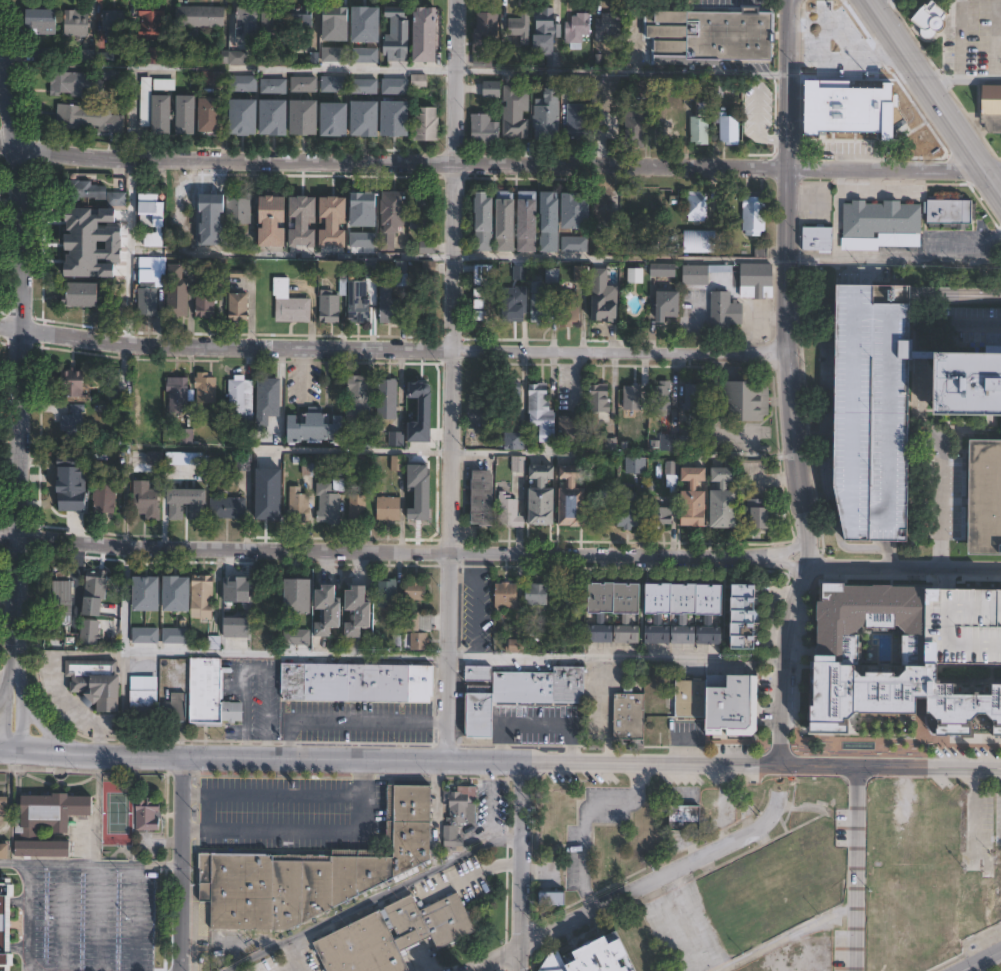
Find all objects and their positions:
building: (199, 17)
building: (43, 20)
building: (153, 20)
building: (926, 21)
building: (77, 23)
building: (248, 23)
building: (333, 23)
building: (304, 24)
building: (116, 25)
building: (273, 25)
building: (609, 25)
building: (517, 28)
building: (578, 30)
building: (365, 33)
building: (428, 33)
building: (398, 34)
building: (542, 36)
building: (484, 37)
building: (710, 39)
building: (43, 55)
building: (157, 55)
building: (105, 58)
building: (235, 58)
building: (341, 58)
road: (976, 67)
road: (512, 70)
building: (112, 74)
building: (215, 76)
road: (963, 79)
building: (418, 80)
building: (73, 83)
building: (166, 84)
building: (244, 84)
building: (274, 84)
building: (335, 84)
building: (306, 85)
building: (393, 85)
road: (928, 85)
building: (366, 87)
building: (639, 88)
building: (715, 88)
building: (490, 90)
building: (147, 101)
building: (990, 107)
building: (702, 108)
building: (848, 110)
building: (512, 112)
building: (163, 114)
building: (188, 114)
building: (212, 114)
building: (84, 116)
building: (543, 116)
building: (393, 117)
building: (246, 118)
building: (368, 120)
building: (576, 120)
building: (338, 121)
building: (275, 122)
building: (306, 123)
building: (427, 124)
building: (637, 126)
building: (482, 129)
building: (726, 129)
building: (605, 130)
building: (698, 130)
building: (668, 131)
road: (493, 163)
road: (995, 171)
road: (790, 177)
road: (995, 179)
building: (92, 192)
building: (210, 205)
building: (699, 206)
building: (423, 207)
building: (240, 208)
building: (393, 208)
building: (574, 209)
building: (949, 210)
building: (606, 211)
building: (756, 216)
road: (128, 218)
building: (152, 218)
building: (548, 218)
building: (306, 219)
building: (880, 219)
building: (482, 220)
building: (503, 220)
building: (524, 220)
building: (76, 221)
building: (271, 221)
building: (337, 224)
road: (958, 237)
building: (221, 238)
building: (818, 238)
road: (992, 238)
building: (571, 243)
building: (673, 246)
building: (429, 247)
road: (201, 253)
road: (427, 255)
building: (77, 258)
road: (736, 260)
road: (894, 260)
building: (664, 270)
building: (582, 273)
building: (554, 275)
building: (697, 275)
building: (759, 275)
building: (636, 276)
building: (150, 285)
building: (178, 292)
building: (84, 295)
road: (954, 295)
building: (365, 300)
building: (395, 302)
building: (207, 303)
building: (334, 303)
building: (540, 303)
building: (291, 304)
building: (671, 305)
building: (239, 307)
building: (484, 308)
building: (421, 309)
building: (513, 309)
building: (602, 309)
building: (570, 310)
building: (725, 310)
road: (393, 347)
road: (20, 356)
road: (450, 380)
building: (85, 382)
building: (967, 383)
building: (207, 389)
building: (151, 391)
building: (424, 391)
building: (178, 394)
building: (511, 395)
building: (241, 396)
building: (361, 396)
building: (663, 396)
building: (696, 397)
building: (632, 398)
building: (388, 399)
building: (539, 399)
building: (747, 400)
building: (270, 401)
building: (602, 402)
road: (923, 407)
building: (868, 410)
parking garage: (868, 410)
building: (480, 412)
building: (73, 422)
building: (318, 429)
building: (575, 431)
building: (140, 436)
building: (187, 436)
building: (396, 439)
building: (517, 441)
building: (367, 442)
building: (679, 443)
road: (794, 449)
road: (415, 451)
road: (641, 452)
road: (750, 454)
building: (156, 459)
building: (185, 460)
building: (245, 463)
building: (398, 464)
building: (512, 465)
building: (637, 466)
building: (667, 478)
building: (537, 497)
building: (567, 497)
building: (985, 497)
building: (481, 498)
building: (756, 498)
building: (103, 499)
building: (147, 500)
building: (689, 500)
building: (719, 500)
building: (188, 504)
building: (329, 505)
building: (299, 506)
building: (266, 507)
building: (228, 508)
building: (390, 510)
building: (358, 511)
building: (507, 512)
building: (643, 513)
road: (401, 548)
road: (804, 550)
road: (901, 565)
road: (944, 578)
building: (98, 585)
building: (234, 591)
building: (297, 591)
building: (416, 591)
building: (144, 592)
building: (174, 592)
building: (389, 593)
building: (540, 594)
building: (507, 597)
building: (63, 598)
building: (203, 598)
building: (570, 599)
building: (331, 613)
building: (361, 613)
building: (656, 613)
building: (745, 618)
building: (419, 622)
building: (961, 625)
parking garage: (961, 625)
building: (90, 633)
building: (144, 634)
building: (174, 634)
building: (295, 636)
building: (420, 642)
building: (518, 648)
road: (232, 652)
road: (529, 655)
road: (643, 657)
building: (830, 659)
road: (783, 660)
road: (255, 666)
road: (7, 676)
building: (357, 681)
building: (97, 684)
road: (2, 687)
building: (522, 690)
building: (208, 693)
building: (692, 697)
building: (141, 701)
building: (733, 703)
road: (3, 704)
road: (17, 705)
building: (176, 707)
road: (70, 708)
building: (626, 718)
road: (349, 719)
road: (535, 723)
road: (39, 724)
road: (500, 762)
road: (273, 794)
building: (3, 805)
road: (582, 811)
building: (460, 812)
building: (147, 813)
road: (974, 813)
road: (490, 815)
building: (551, 818)
building: (682, 818)
building: (50, 823)
road: (308, 829)
building: (3, 849)
road: (183, 863)
road: (13, 864)
road: (52, 864)
road: (520, 866)
road: (857, 868)
building: (315, 871)
road: (537, 871)
road: (468, 875)
road: (631, 890)
building: (552, 896)
building: (982, 903)
road: (100, 917)
road: (136, 917)
building: (10, 922)
building: (396, 935)
road: (786, 937)
building: (589, 956)
road: (985, 956)
road: (423, 963)
road: (295, 964)
road: (962, 967)
road: (27, 970)

